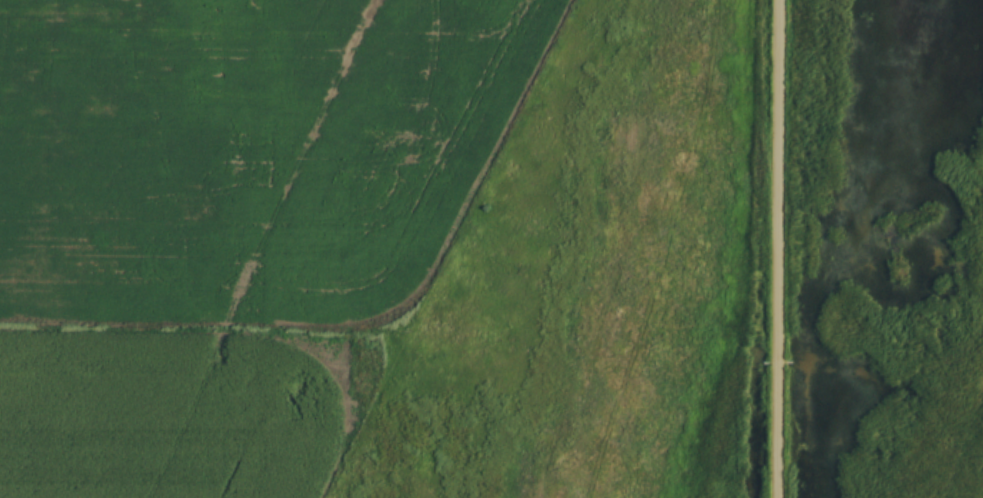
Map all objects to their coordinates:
road: (778, 249)

